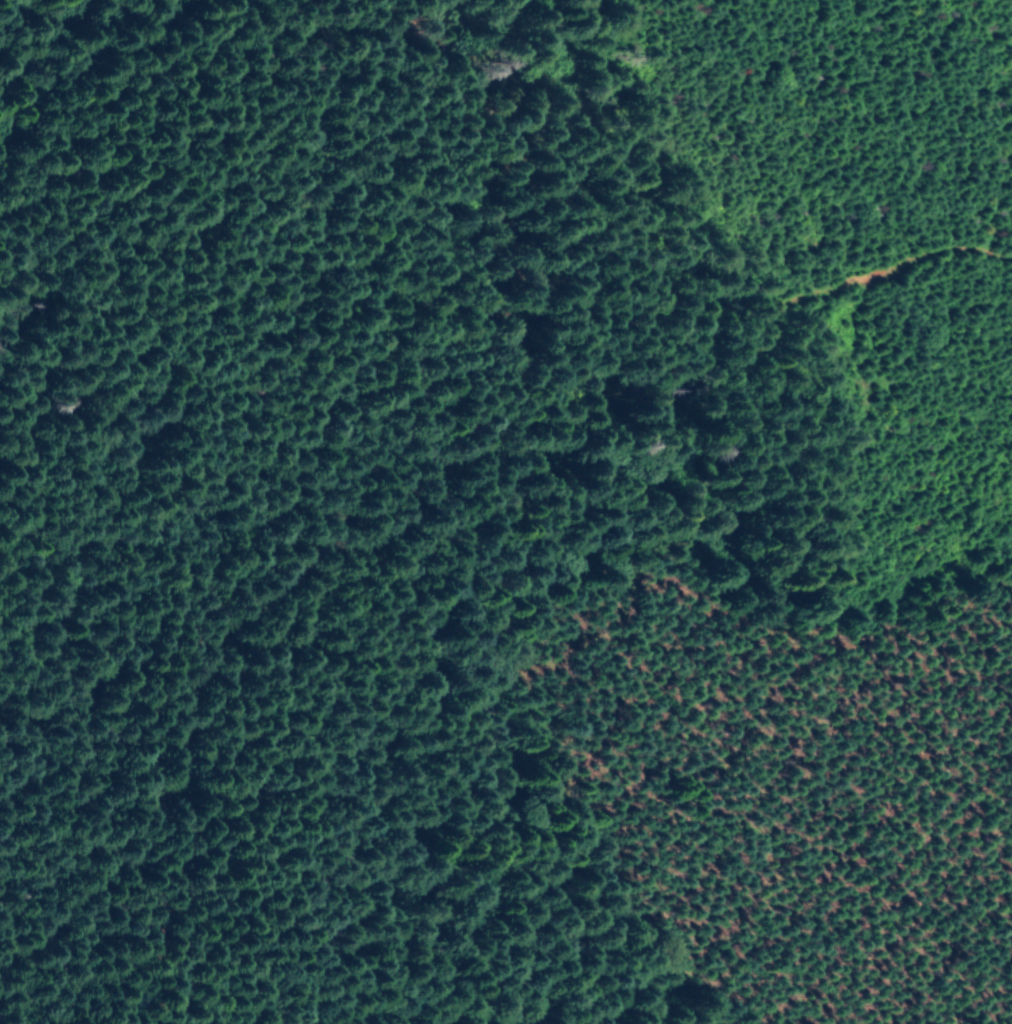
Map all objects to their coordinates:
road: (498, 25)
road: (755, 350)
road: (408, 532)
road: (96, 920)
road: (4, 1008)

